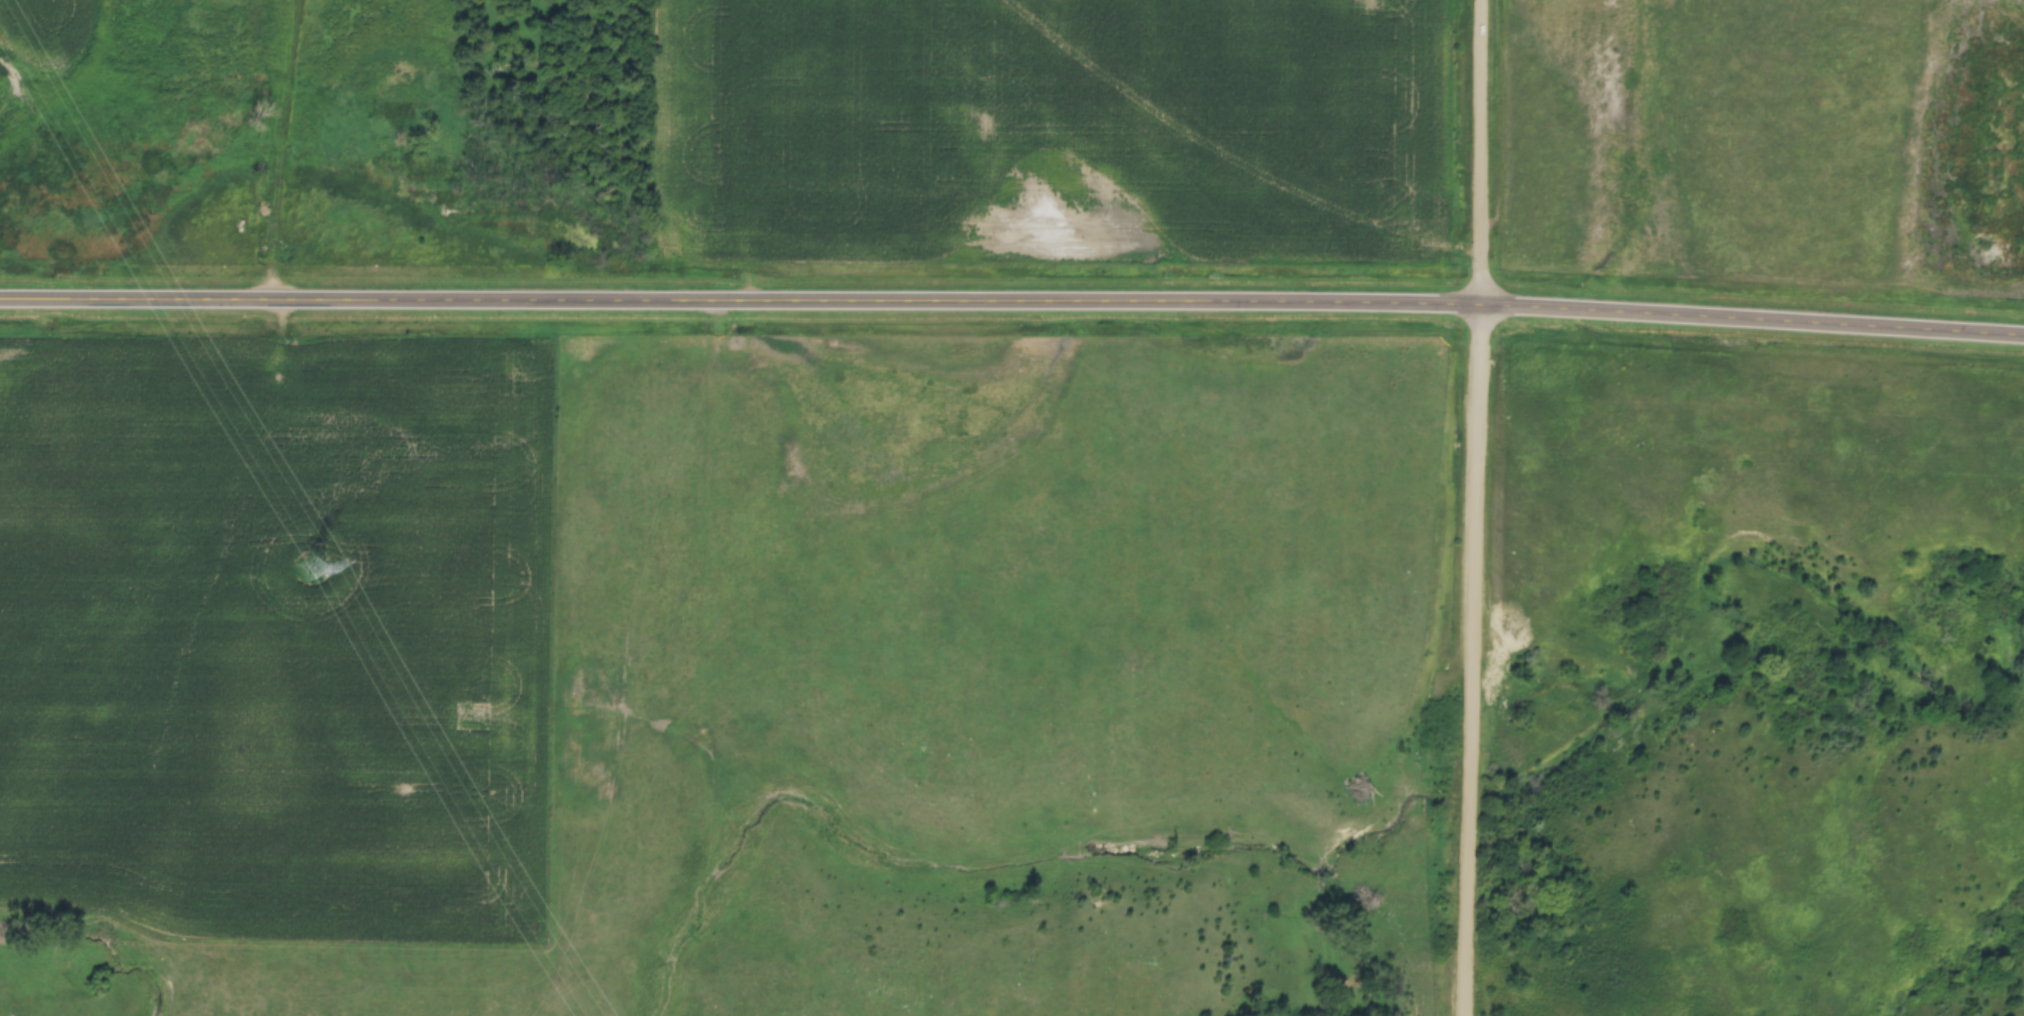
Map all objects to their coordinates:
road: (1012, 303)
road: (1472, 508)
power tower: (308, 568)

